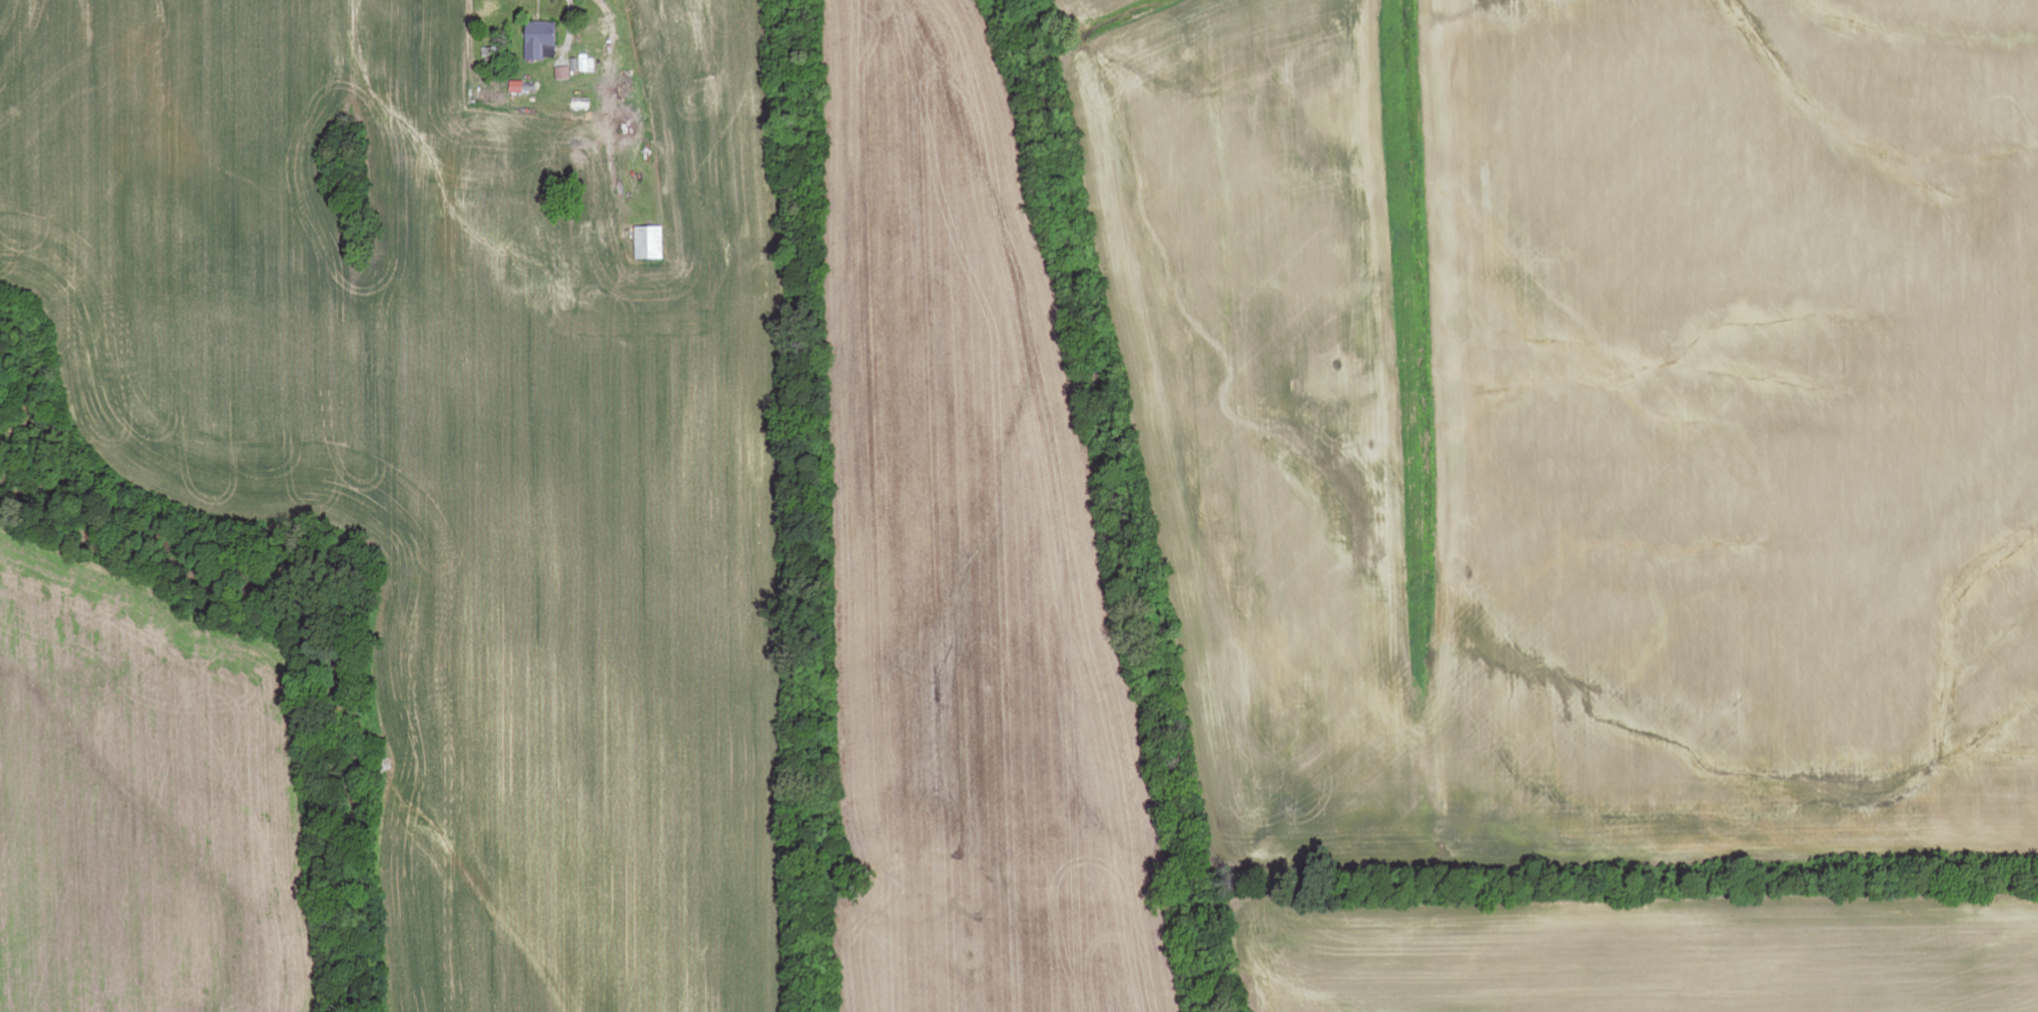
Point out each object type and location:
building: (542, 40)

